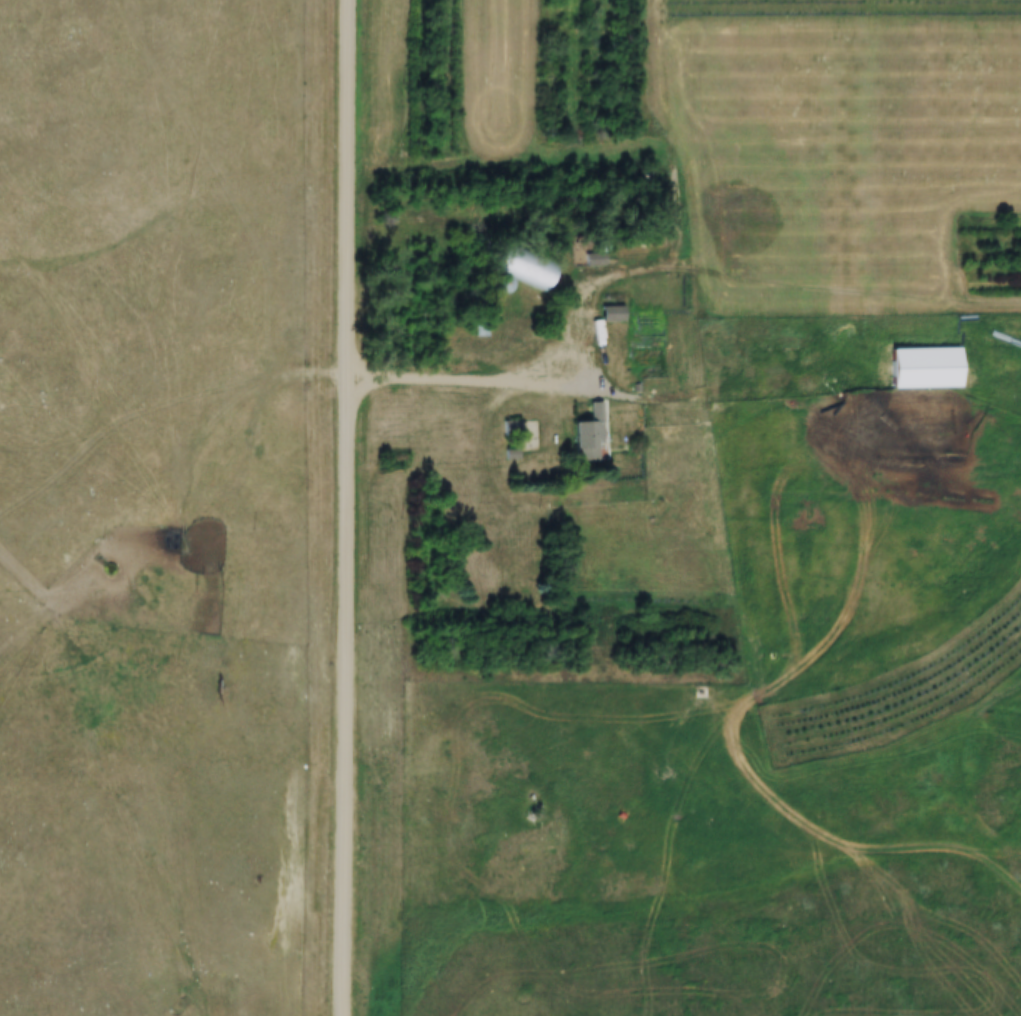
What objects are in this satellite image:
road: (673, 126)
road: (847, 150)
building: (648, 172)
building: (596, 258)
building: (522, 265)
building: (611, 313)
building: (480, 328)
road: (523, 364)
building: (691, 379)
building: (592, 433)
building: (520, 435)
road: (348, 508)

